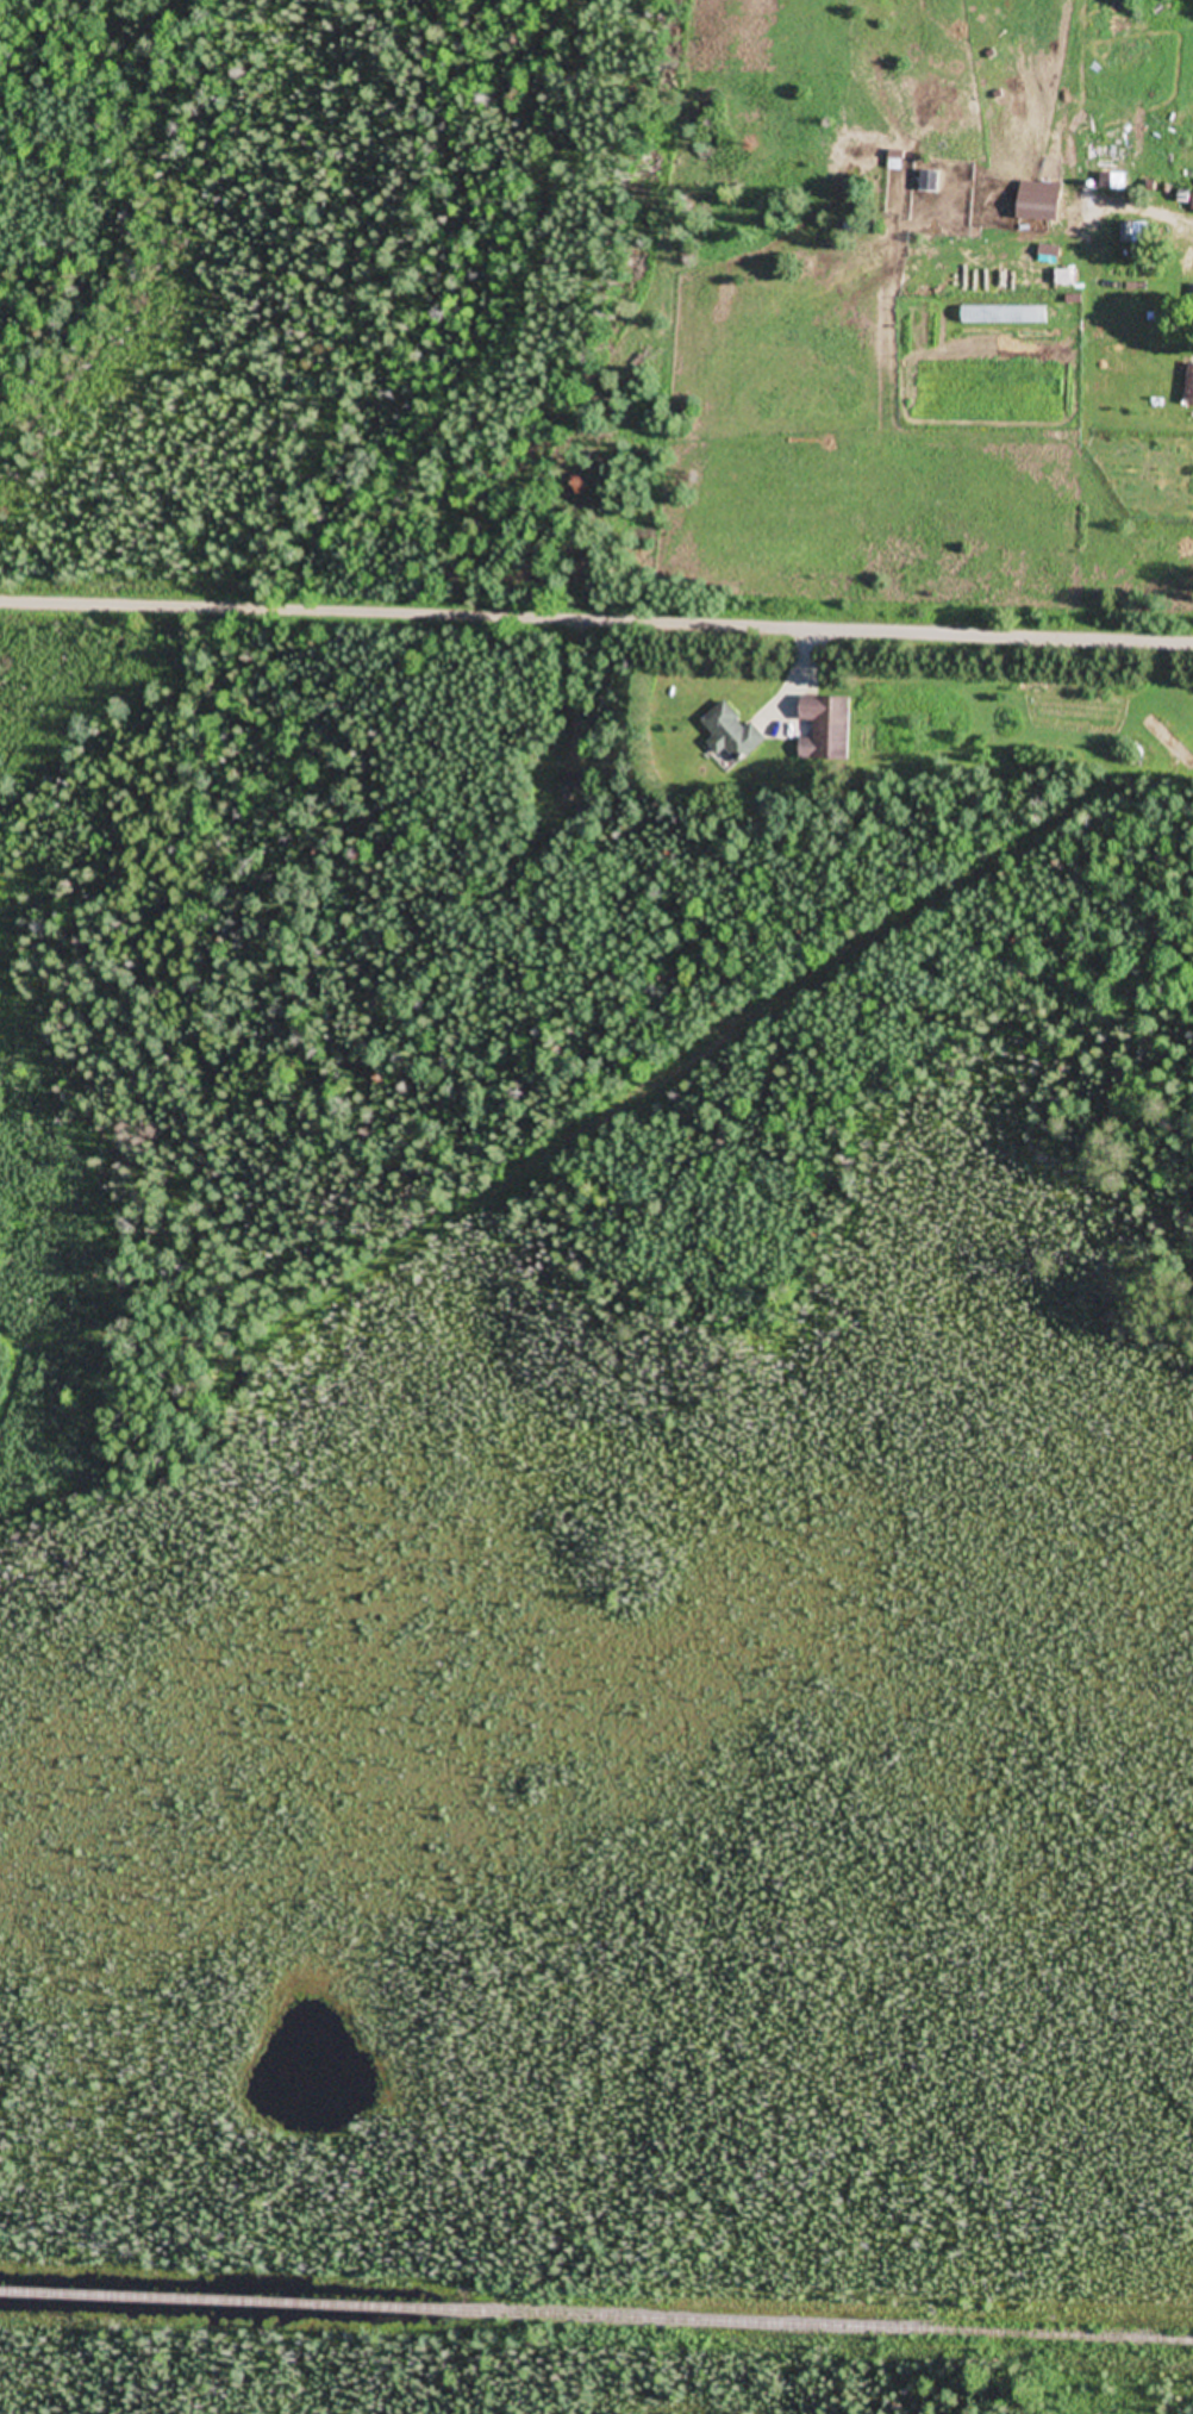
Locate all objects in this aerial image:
building: (1135, 233)
building: (1192, 280)
building: (1189, 389)
building: (1188, 559)
road: (596, 625)
building: (827, 731)
building: (735, 734)
building: (1169, 742)
building: (576, 786)
railway: (596, 2318)

